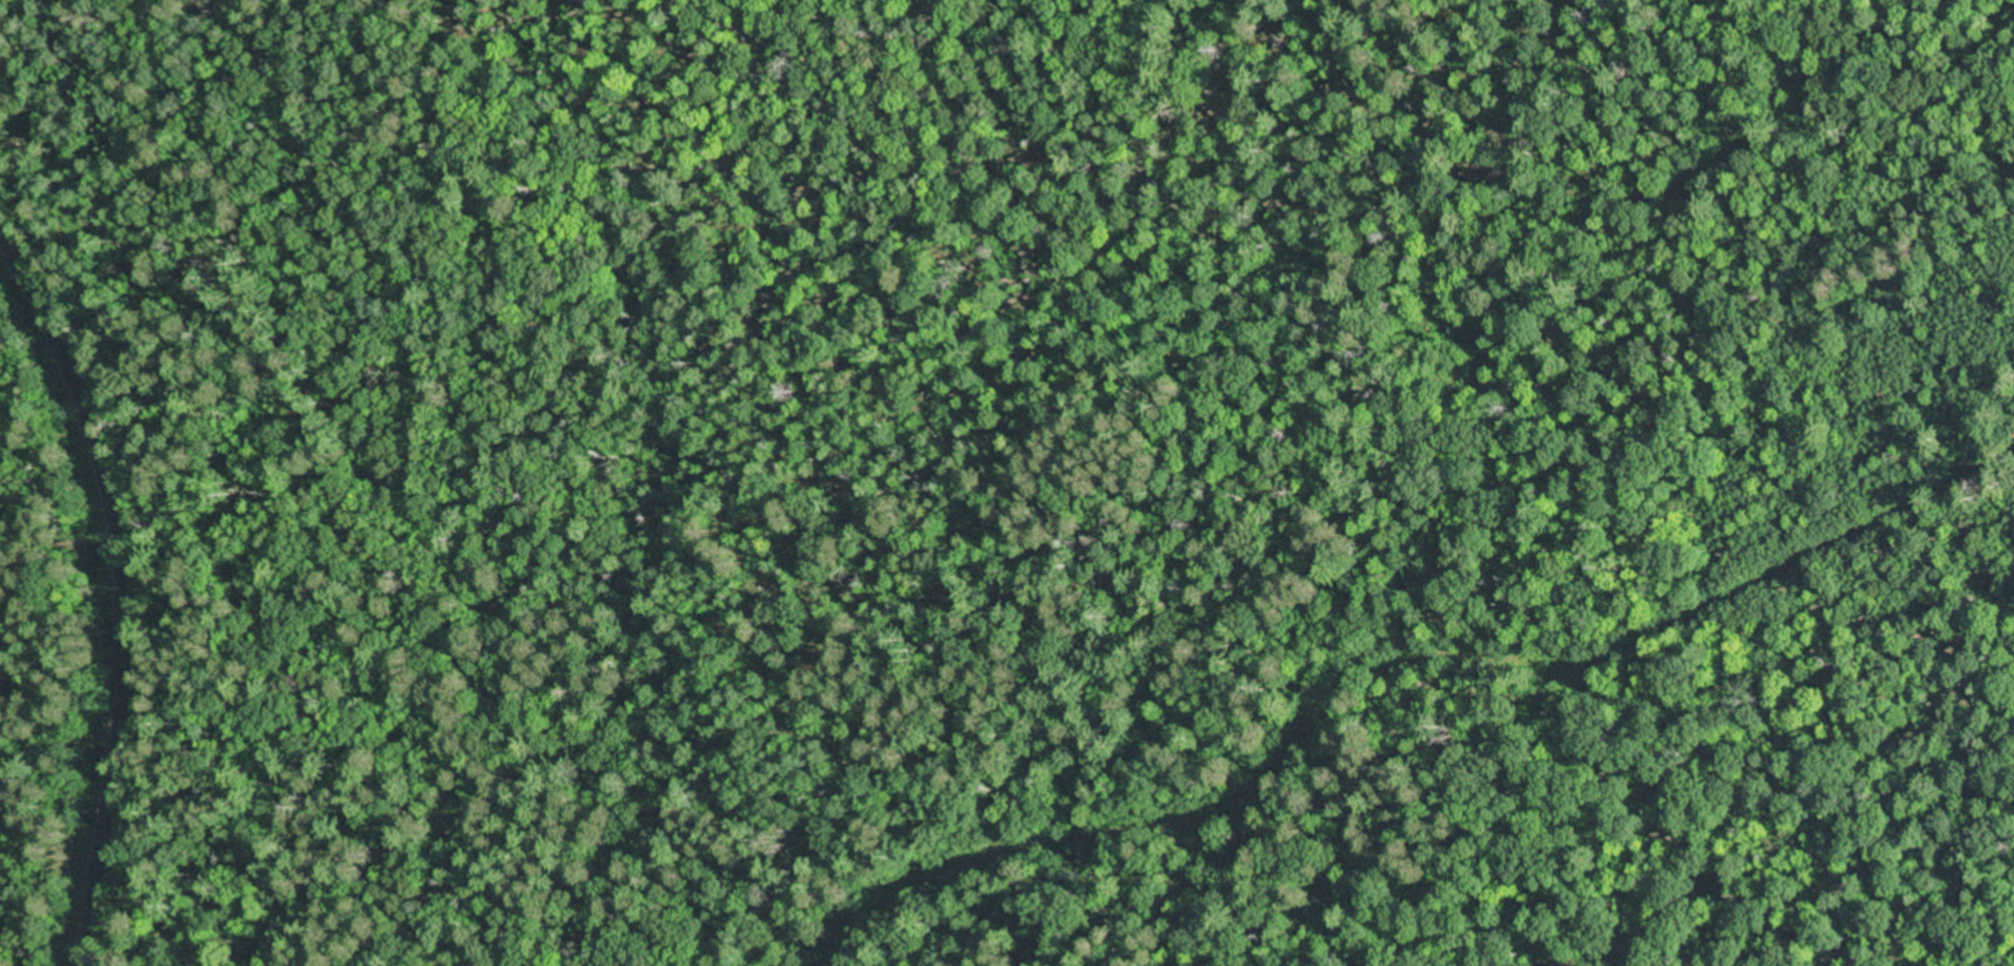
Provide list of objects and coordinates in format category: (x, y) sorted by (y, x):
road: (121, 583)
road: (1396, 664)

